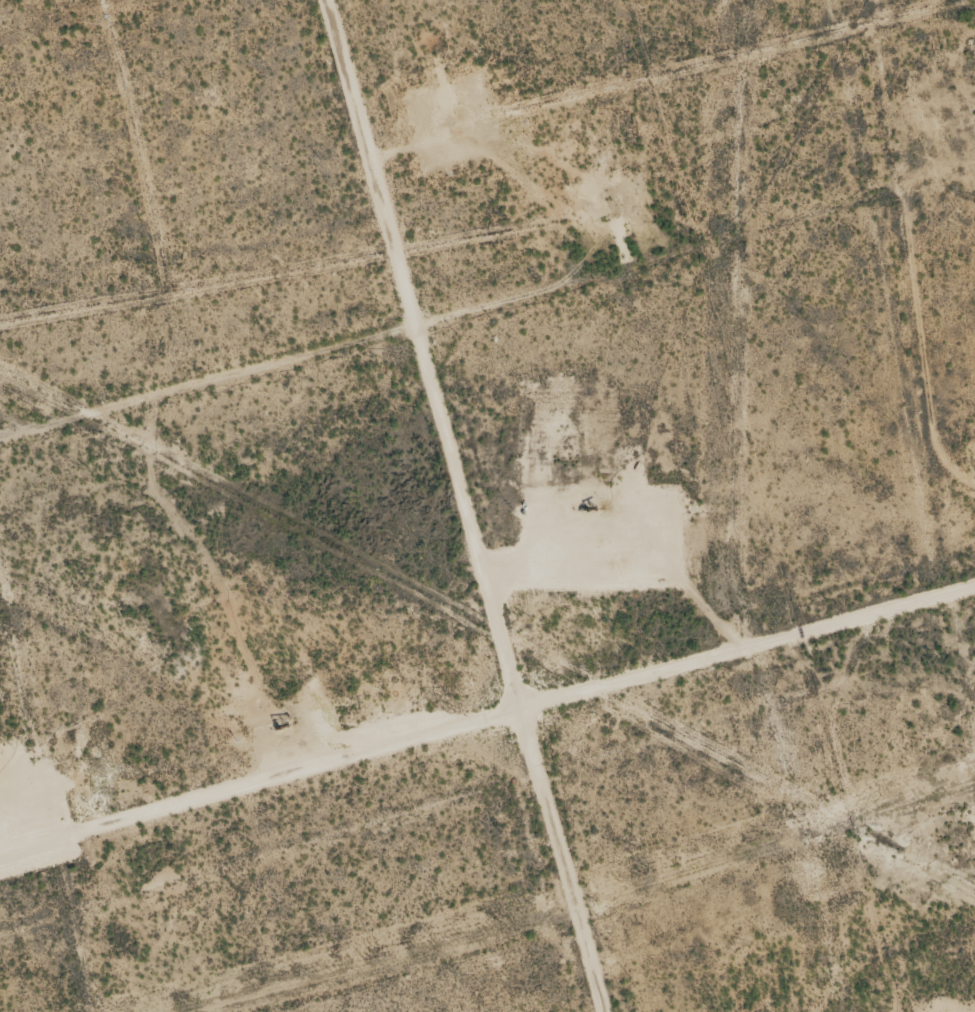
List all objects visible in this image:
road: (475, 506)
road: (488, 732)

